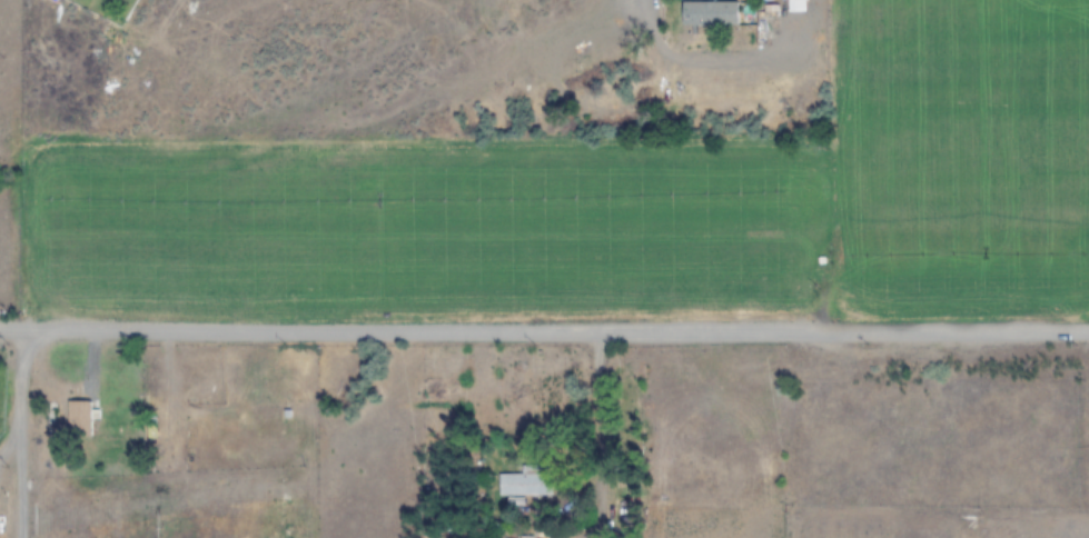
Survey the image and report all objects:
building: (711, 13)
crop: (544, 269)
building: (801, 279)
road: (544, 335)
road: (604, 408)
building: (79, 418)
road: (23, 432)
building: (525, 484)
building: (517, 537)

